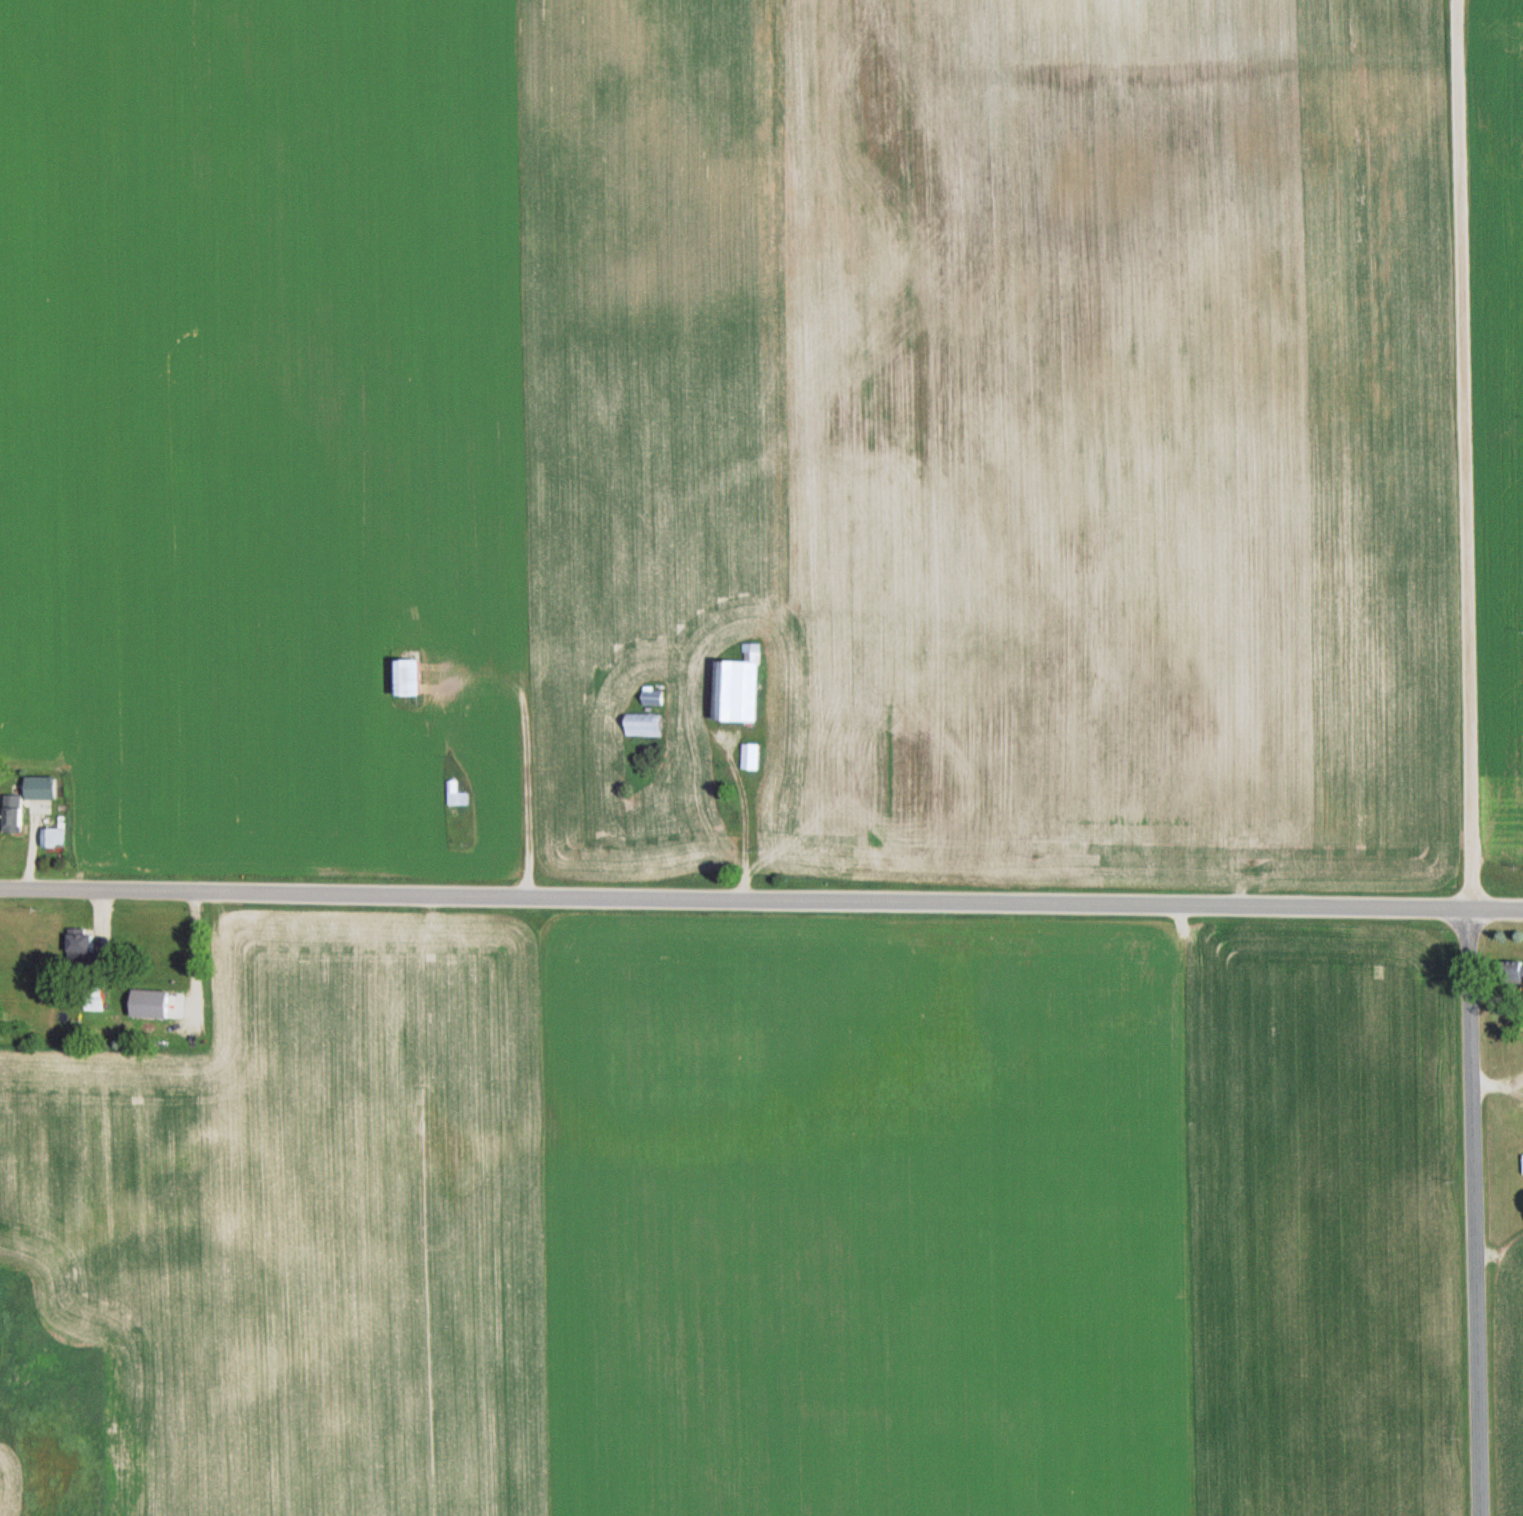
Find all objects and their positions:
road: (1465, 454)
building: (736, 688)
building: (653, 697)
building: (642, 726)
building: (748, 757)
building: (454, 794)
building: (18, 812)
road: (742, 820)
building: (60, 837)
road: (734, 898)
road: (1496, 908)
building: (88, 950)
building: (1510, 973)
road: (1475, 1212)

